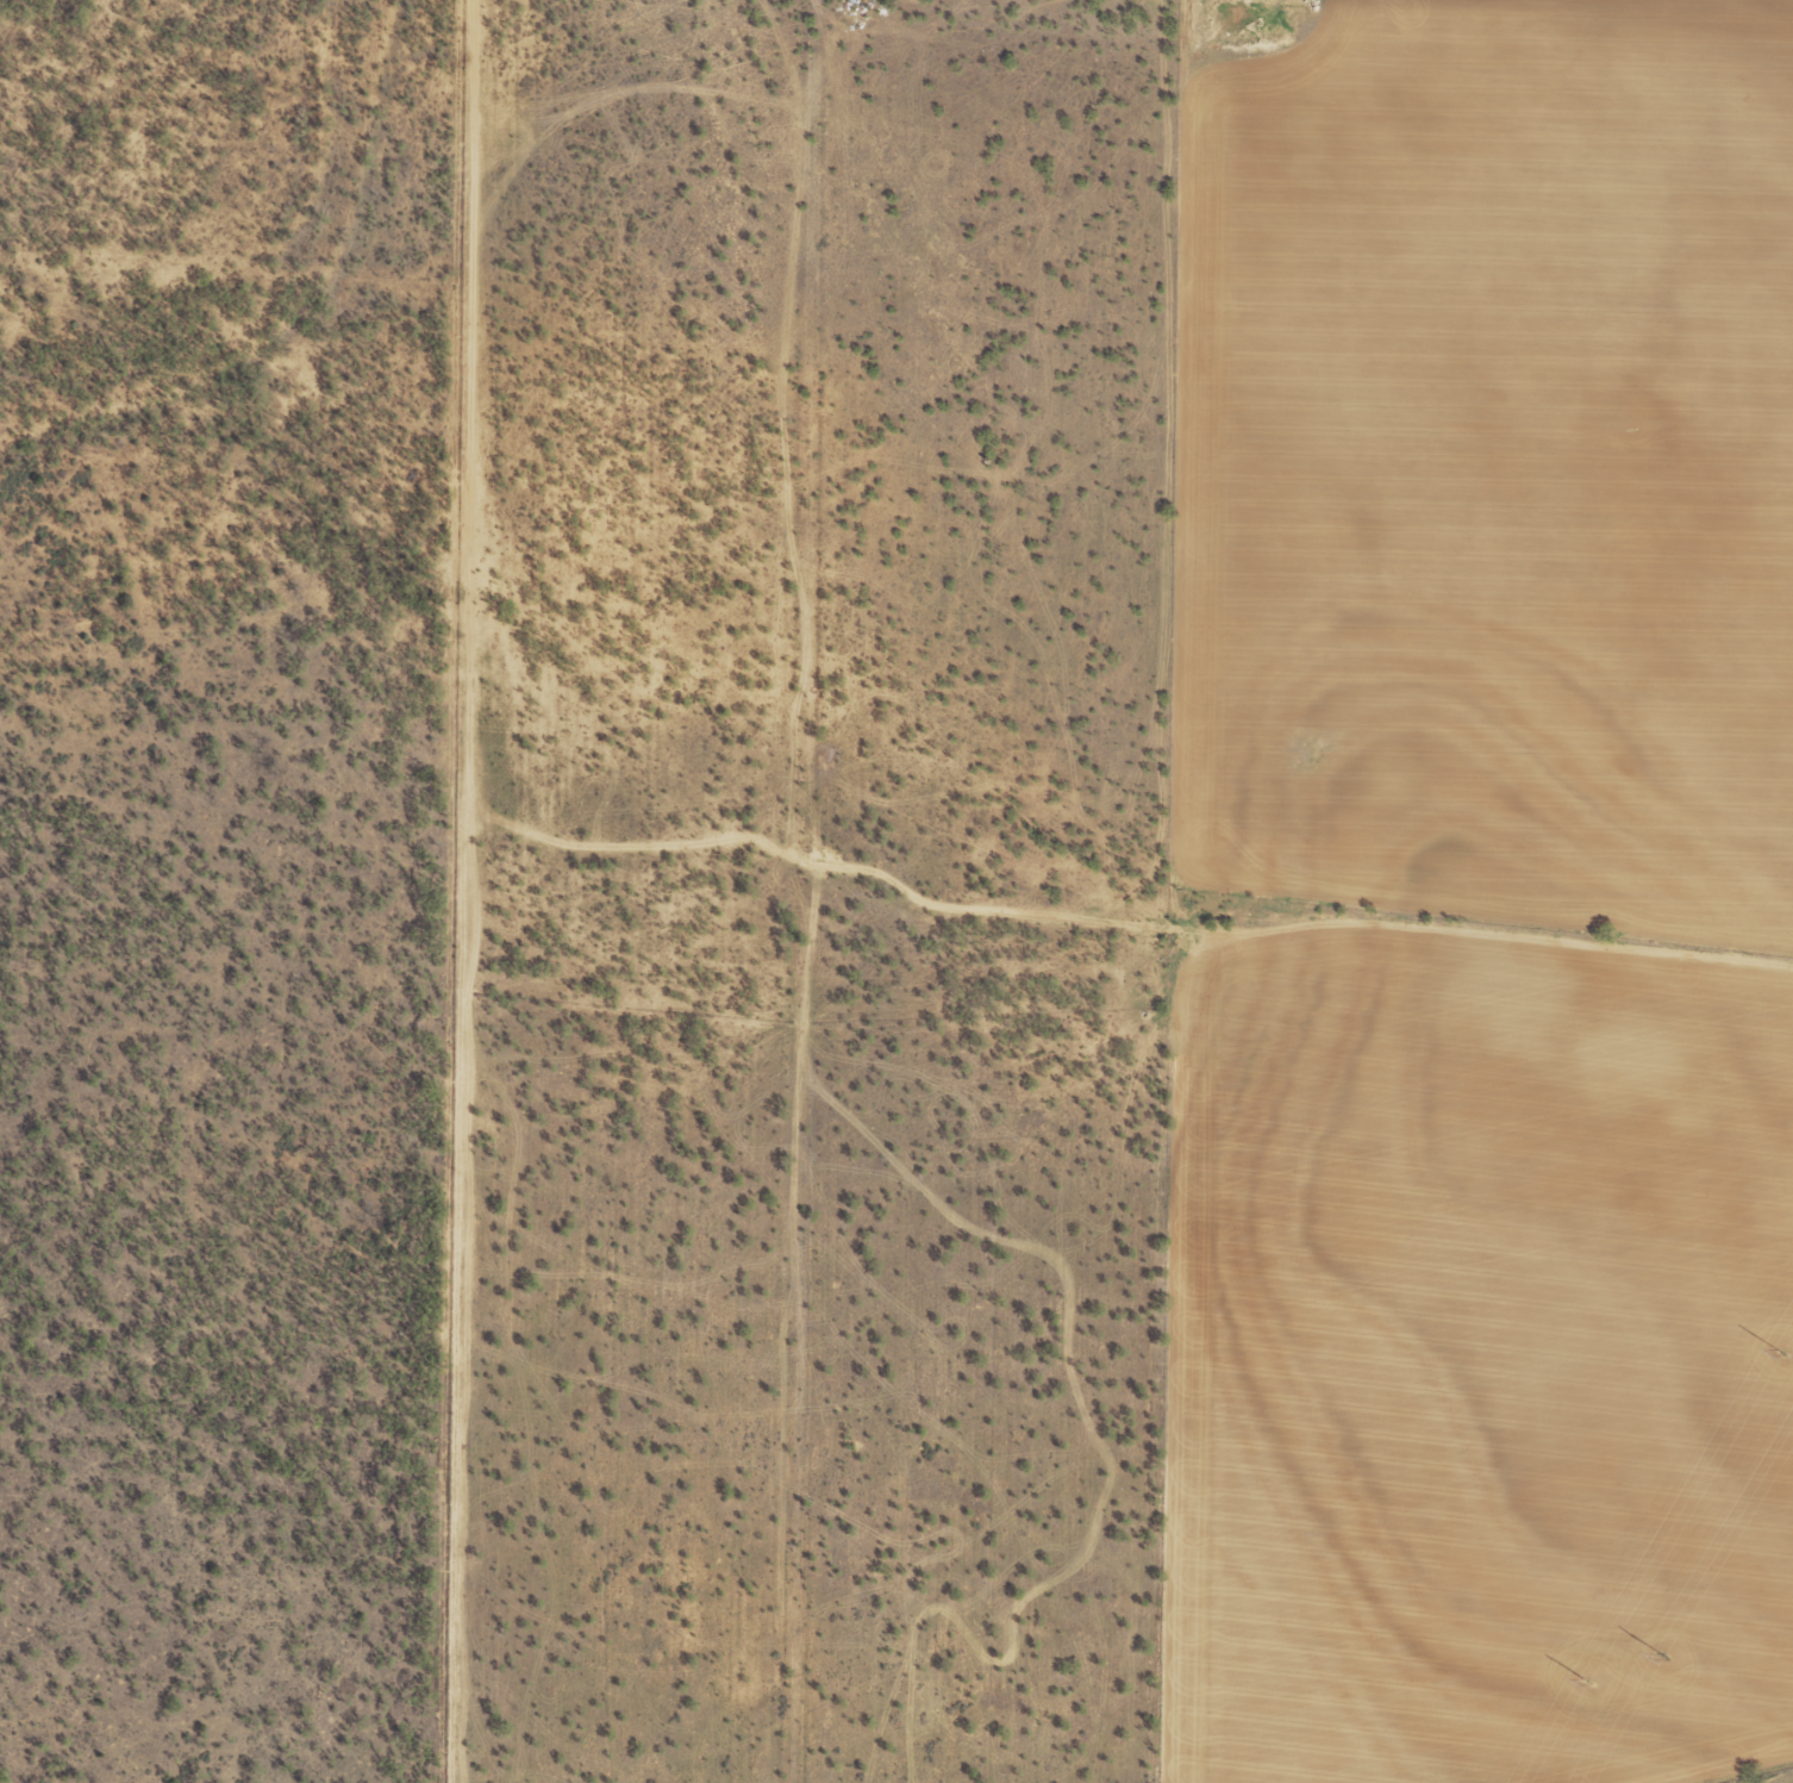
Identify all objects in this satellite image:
power tower: (1781, 1353)
power tower: (1663, 1656)
power tower: (1587, 1681)

